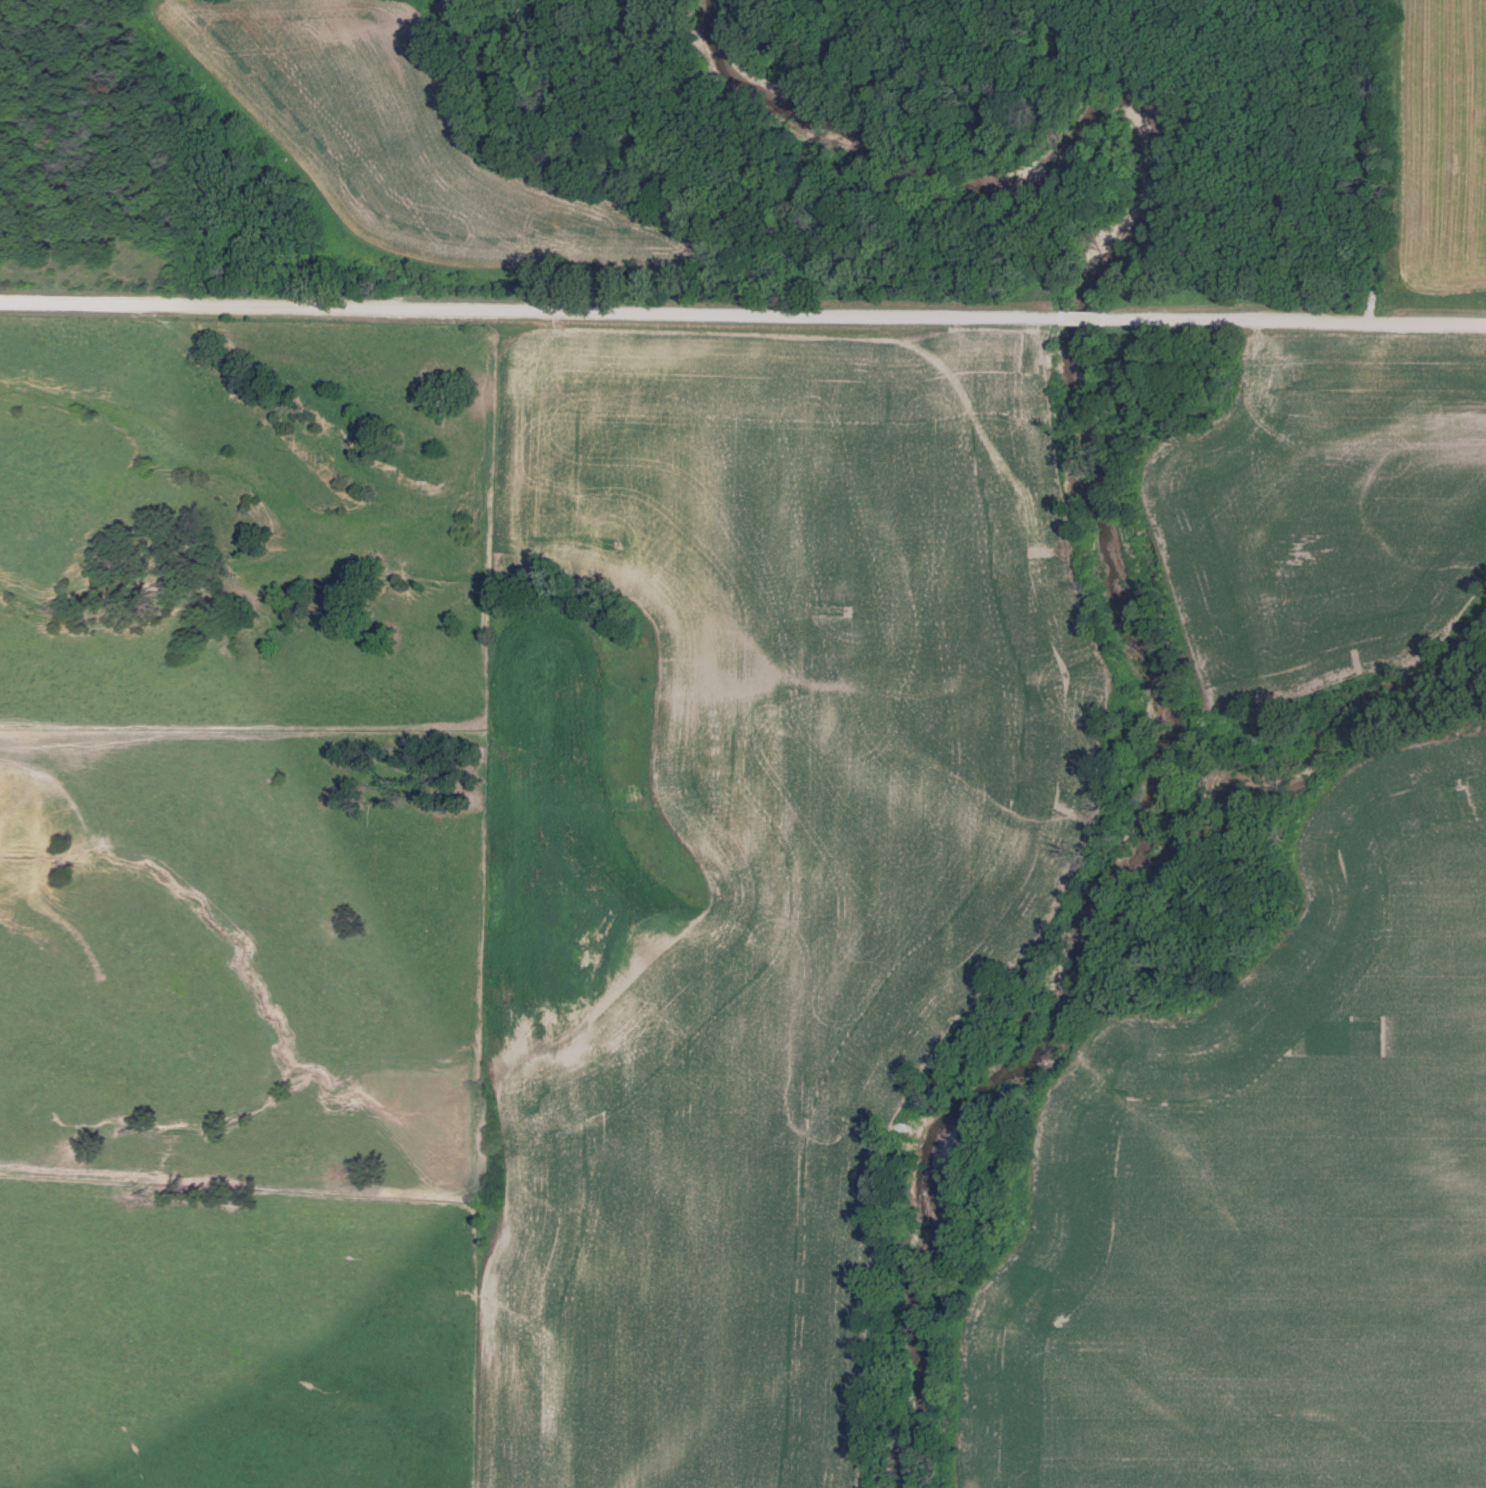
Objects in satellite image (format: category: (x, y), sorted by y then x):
road: (743, 313)

